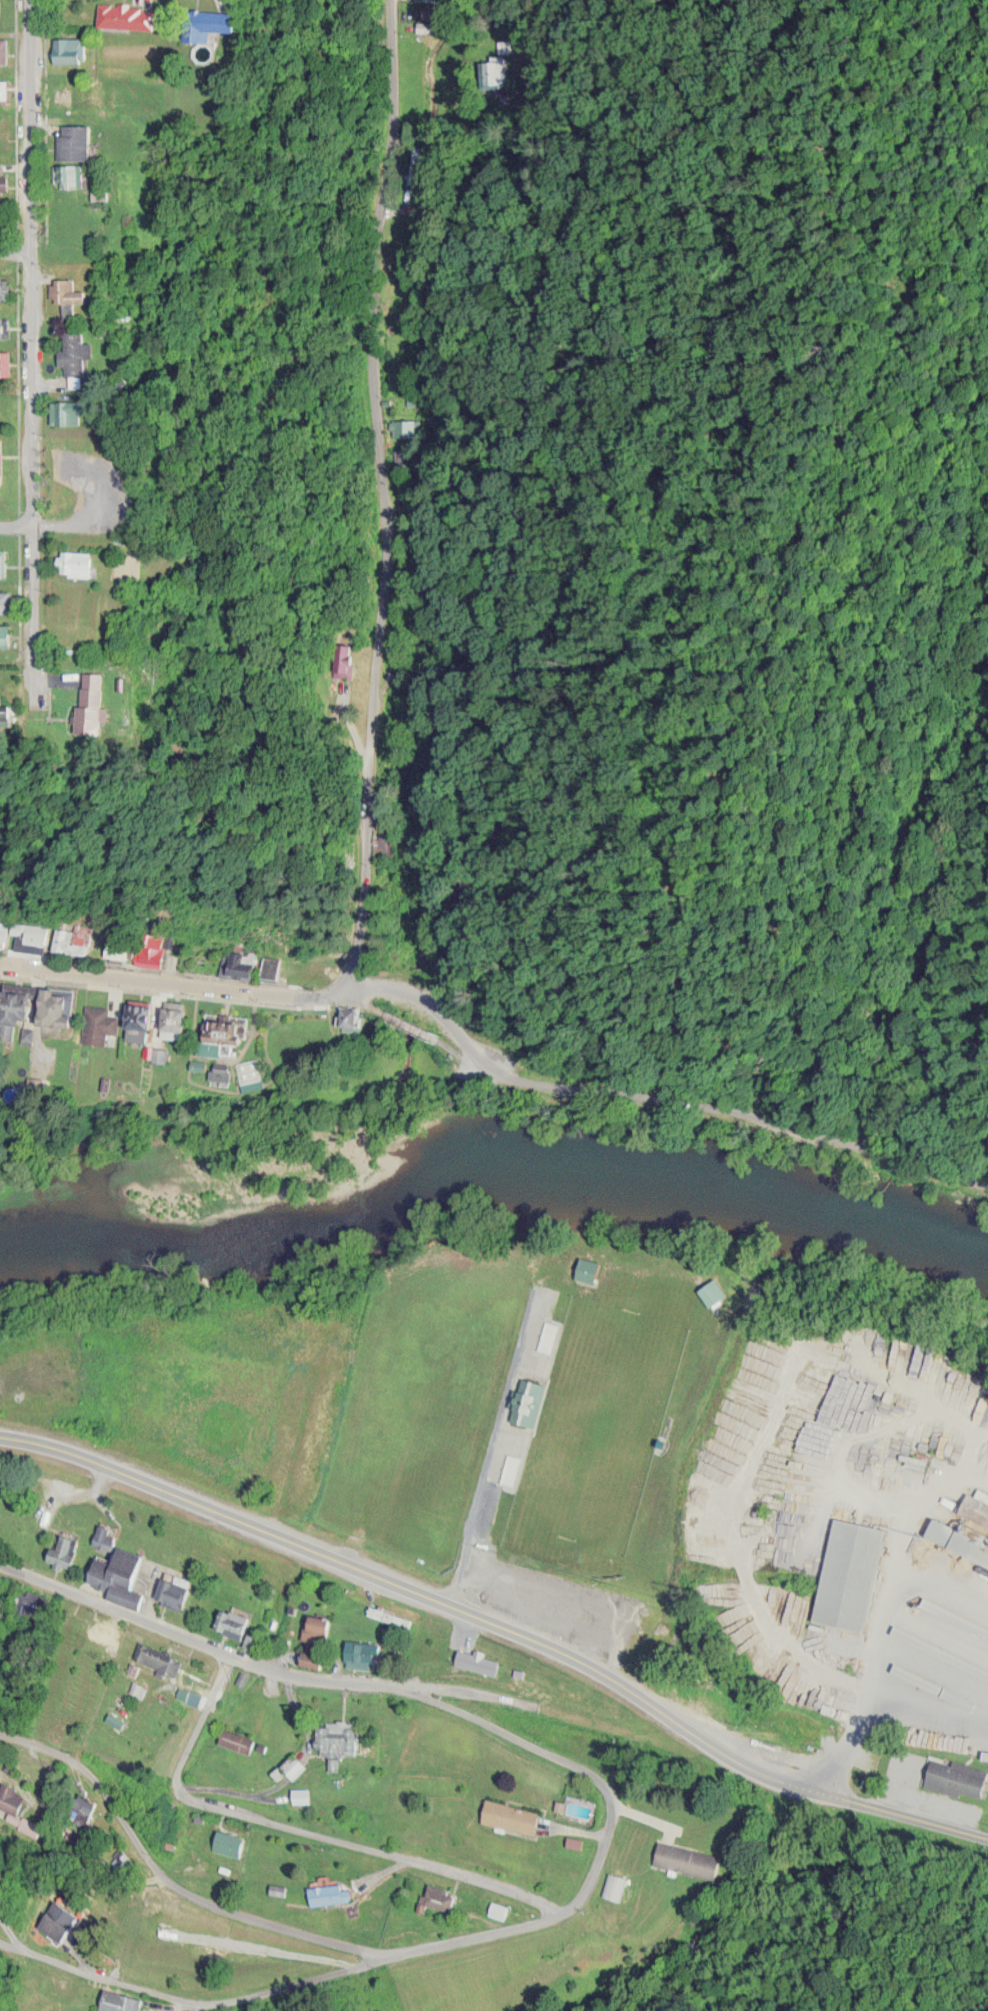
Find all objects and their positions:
road: (147, 3)
building: (1, 9)
building: (121, 16)
building: (189, 20)
building: (2, 50)
building: (66, 50)
building: (498, 68)
building: (4, 90)
building: (72, 95)
building: (70, 141)
building: (1, 180)
road: (14, 248)
building: (3, 287)
building: (65, 291)
building: (4, 327)
road: (26, 349)
building: (71, 351)
building: (4, 362)
building: (64, 411)
building: (1, 461)
road: (378, 490)
road: (11, 522)
building: (69, 563)
building: (3, 564)
building: (7, 600)
building: (10, 635)
building: (338, 659)
building: (117, 699)
building: (1, 929)
building: (27, 935)
building: (120, 947)
building: (72, 948)
building: (153, 950)
building: (255, 962)
road: (377, 982)
building: (0, 984)
building: (348, 1016)
building: (21, 1019)
building: (62, 1020)
building: (144, 1020)
building: (178, 1027)
building: (101, 1032)
building: (231, 1032)
building: (254, 1069)
road: (857, 1137)
river: (493, 1174)
building: (709, 1290)
building: (98, 1343)
building: (523, 1404)
park: (602, 1422)
road: (484, 1470)
building: (102, 1536)
building: (62, 1553)
building: (845, 1573)
building: (120, 1576)
road: (524, 1591)
building: (170, 1594)
road: (764, 1594)
road: (439, 1602)
building: (229, 1622)
building: (103, 1634)
building: (358, 1654)
building: (156, 1659)
building: (311, 1661)
road: (228, 1662)
building: (484, 1664)
building: (336, 1737)
building: (234, 1740)
building: (953, 1776)
building: (298, 1797)
building: (19, 1807)
building: (506, 1816)
road: (925, 1821)
road: (302, 1833)
building: (227, 1843)
building: (682, 1860)
road: (165, 1885)
building: (611, 1886)
building: (275, 1890)
building: (325, 1895)
building: (435, 1896)
building: (495, 1909)
building: (61, 1918)
road: (561, 1920)
road: (95, 1980)
building: (116, 2001)

